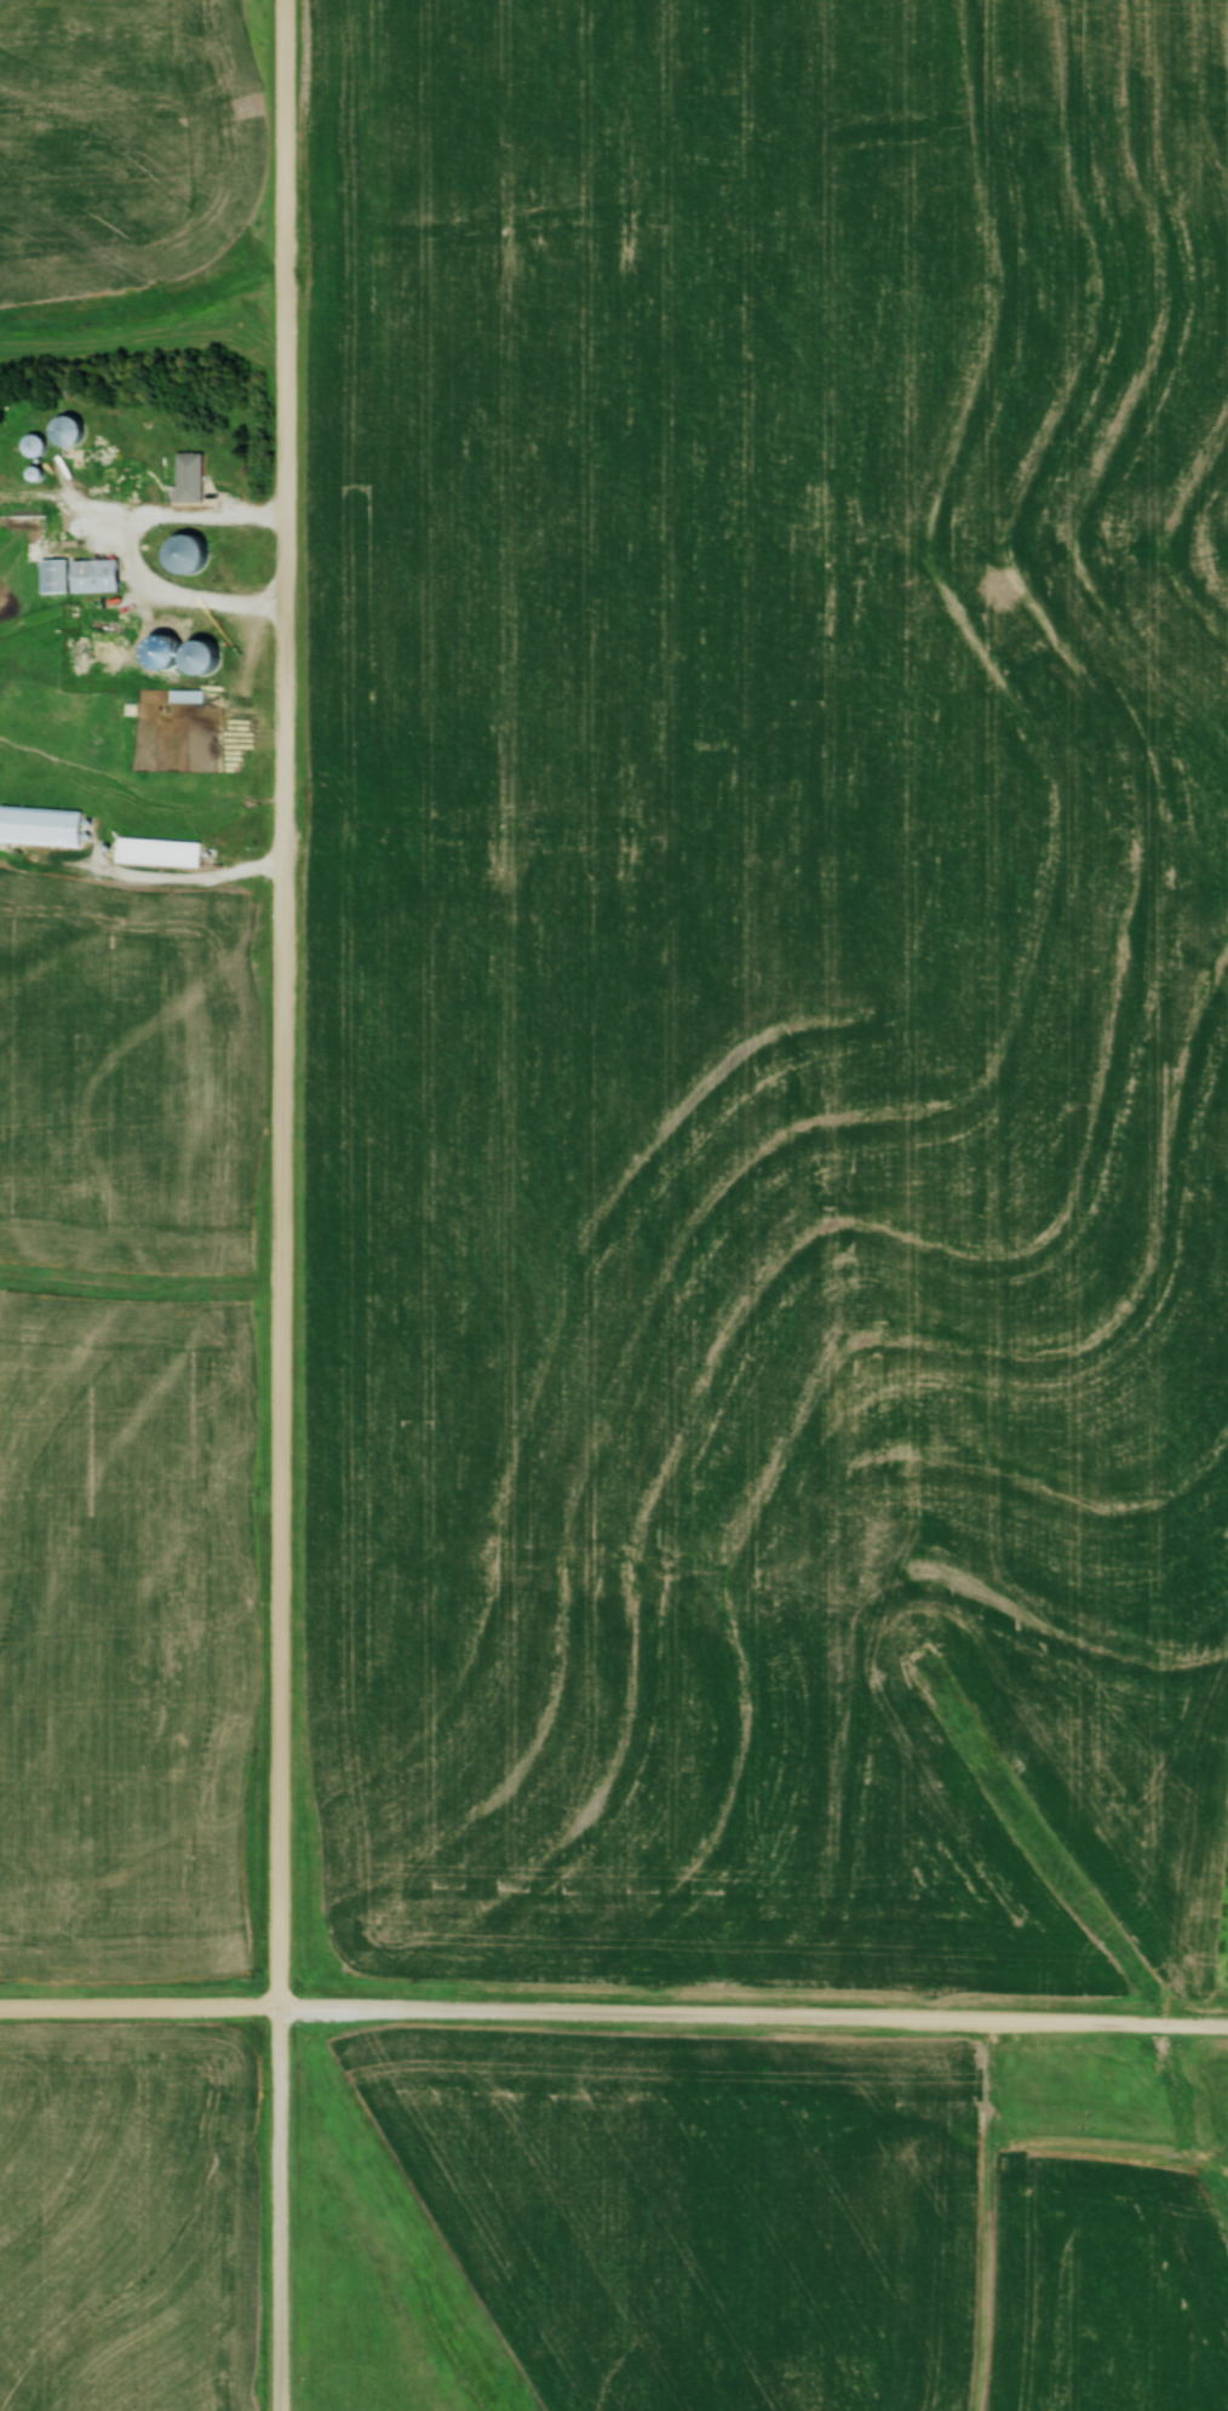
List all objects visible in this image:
building: (79, 430)
building: (132, 471)
building: (194, 476)
road: (131, 551)
building: (195, 551)
building: (102, 574)
building: (62, 575)
building: (167, 635)
building: (211, 655)
building: (189, 695)
building: (44, 825)
building: (160, 852)
road: (288, 1205)
road: (614, 2010)

